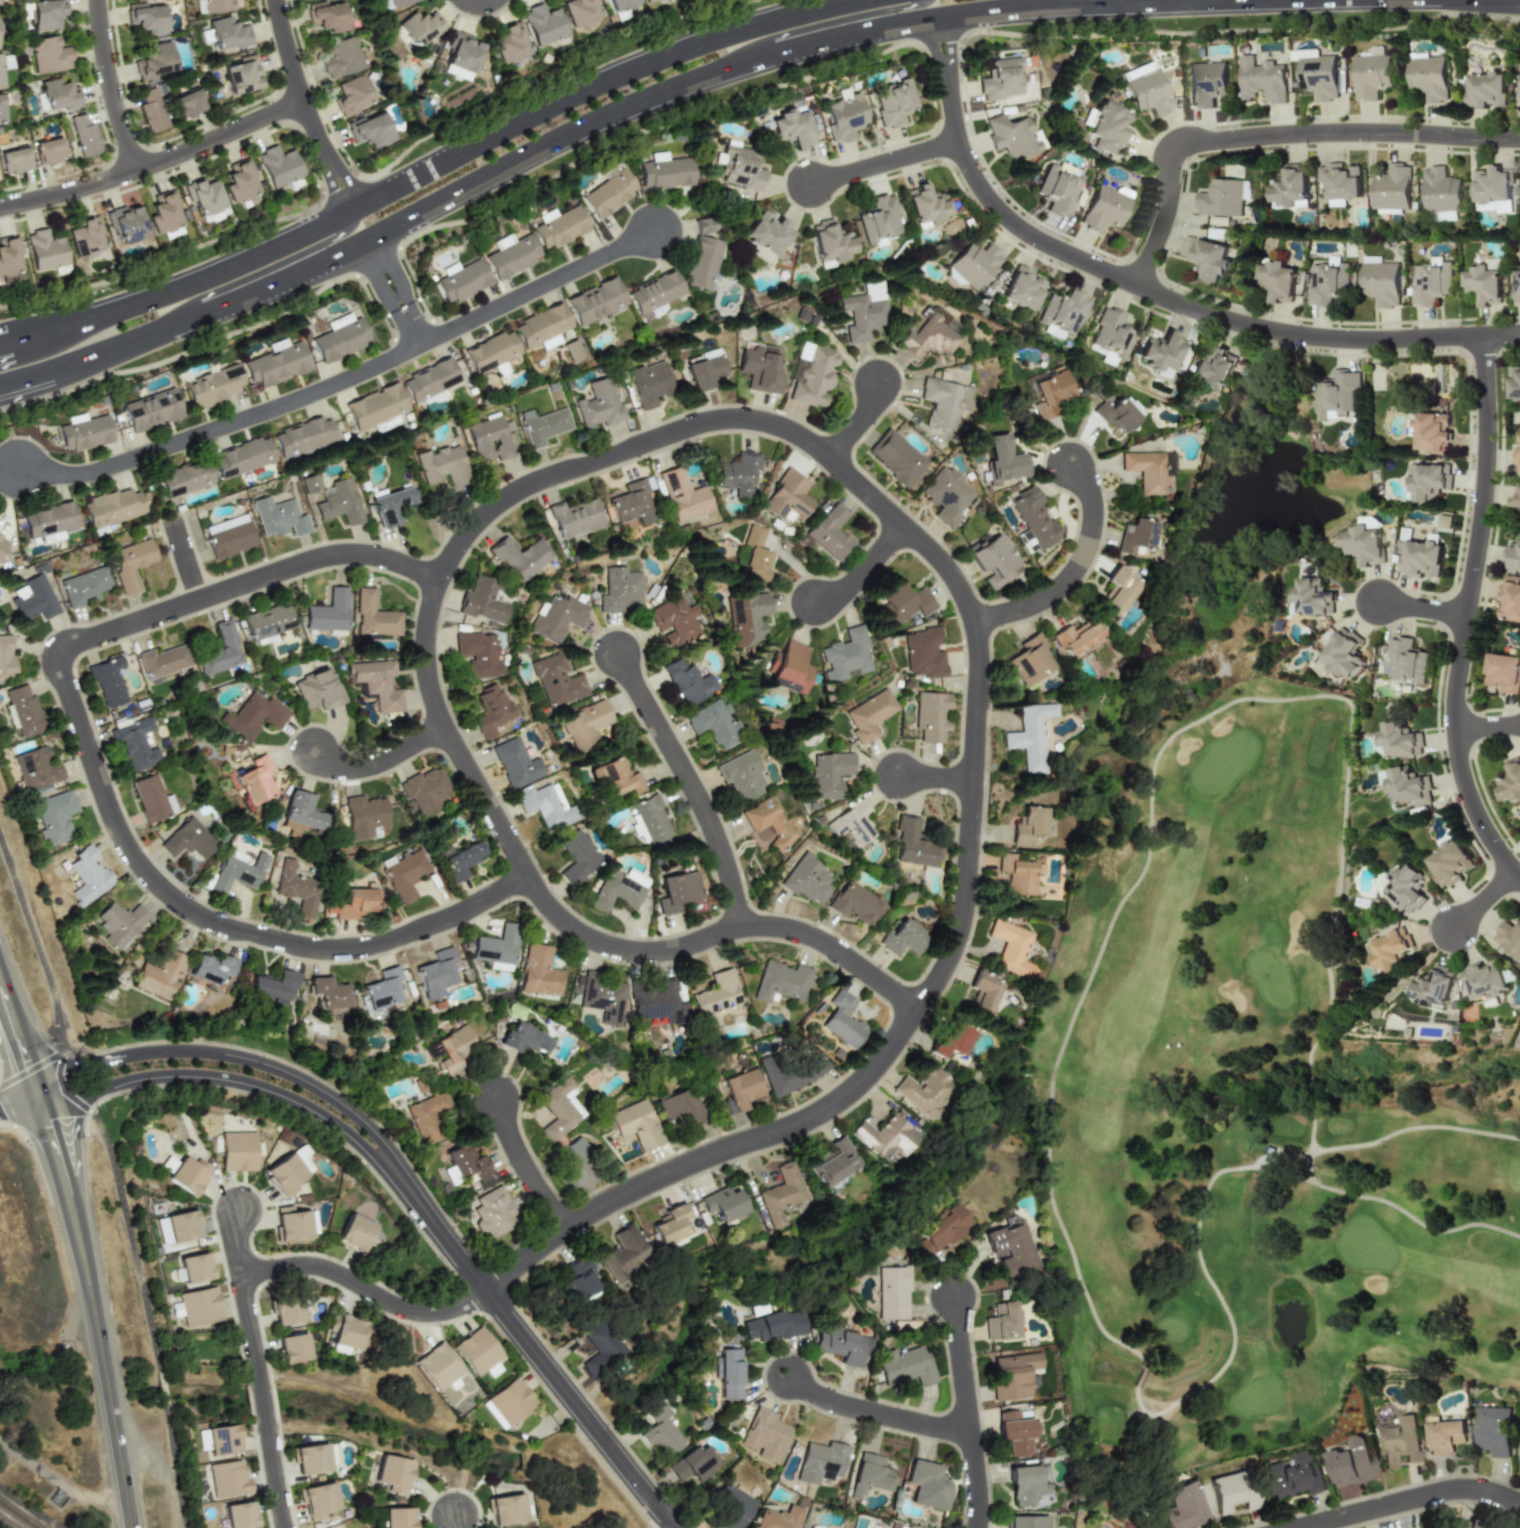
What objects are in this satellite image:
building: (646, 0)
building: (399, 2)
building: (621, 4)
building: (217, 5)
building: (580, 11)
building: (46, 13)
building: (328, 15)
building: (147, 17)
road: (825, 23)
building: (544, 24)
building: (418, 27)
building: (228, 33)
street lamp: (978, 37)
building: (511, 43)
building: (462, 52)
building: (1303, 53)
building: (49, 55)
building: (342, 57)
building: (154, 62)
building: (1, 73)
building: (456, 73)
building: (242, 75)
building: (1370, 76)
building: (1318, 77)
building: (1428, 78)
building: (1001, 79)
building: (1261, 80)
building: (1519, 80)
building: (1206, 83)
road: (113, 86)
building: (1146, 88)
building: (1485, 89)
building: (59, 94)
building: (351, 95)
building: (894, 102)
building: (189, 103)
road: (307, 107)
building: (1, 110)
building: (152, 110)
building: (844, 116)
street lamp: (219, 123)
street lamp: (1458, 124)
building: (1108, 126)
street lamp: (1238, 127)
building: (792, 128)
building: (370, 130)
road: (572, 132)
road: (1273, 135)
building: (85, 136)
building: (1012, 136)
street lamp: (1368, 146)
street lamp: (880, 149)
building: (49, 150)
building: (15, 160)
road: (883, 163)
road: (155, 164)
building: (278, 166)
building: (740, 168)
road: (427, 169)
street lamp: (954, 170)
building: (665, 173)
street lamp: (1183, 174)
street lamp: (44, 180)
building: (240, 181)
building: (1341, 181)
building: (1291, 187)
building: (1058, 188)
building: (1393, 188)
street lamp: (137, 190)
building: (1441, 190)
building: (1491, 190)
building: (608, 193)
building: (204, 196)
building: (1223, 197)
building: (925, 206)
building: (1103, 209)
street lamp: (803, 213)
building: (165, 215)
building: (1445, 215)
building: (879, 220)
building: (125, 224)
building: (702, 225)
building: (560, 228)
building: (765, 235)
building: (84, 238)
building: (829, 241)
street lamp: (1022, 249)
building: (44, 250)
building: (511, 255)
road: (172, 258)
building: (9, 259)
building: (1209, 259)
street lamp: (1110, 260)
building: (701, 263)
building: (974, 264)
road: (268, 268)
building: (462, 281)
building: (1276, 281)
building: (1327, 281)
building: (1430, 281)
building: (1381, 283)
building: (1482, 284)
building: (1516, 286)
road: (537, 288)
building: (1021, 288)
building: (655, 291)
road: (1148, 291)
road: (393, 292)
building: (595, 301)
building: (1062, 311)
building: (864, 312)
building: (541, 325)
building: (931, 335)
building: (340, 337)
building: (1109, 337)
building: (491, 351)
building: (572, 351)
building: (1161, 353)
building: (276, 363)
building: (759, 368)
building: (1212, 369)
building: (704, 372)
building: (811, 374)
building: (429, 379)
building: (1514, 382)
building: (648, 383)
building: (212, 386)
building: (1049, 394)
building: (1336, 394)
building: (944, 402)
building: (596, 404)
building: (375, 406)
building: (151, 409)
building: (1115, 416)
road: (860, 424)
building: (542, 425)
road: (222, 426)
building: (1432, 432)
building: (83, 433)
building: (303, 436)
road: (800, 438)
building: (489, 439)
building: (243, 457)
building: (896, 457)
building: (1517, 458)
building: (1002, 461)
building: (444, 466)
building: (1149, 469)
building: (738, 474)
building: (184, 478)
building: (311, 483)
building: (1428, 483)
building: (681, 494)
building: (947, 495)
building: (1516, 496)
building: (629, 501)
building: (340, 503)
building: (390, 506)
building: (111, 507)
building: (279, 517)
building: (573, 517)
building: (1034, 518)
building: (48, 519)
building: (1444, 521)
building: (830, 532)
building: (229, 535)
building: (50, 537)
building: (1137, 537)
building: (2, 542)
building: (1363, 545)
building: (1512, 555)
building: (520, 556)
building: (1421, 557)
road: (186, 559)
building: (994, 561)
building: (130, 563)
road: (1072, 565)
road: (863, 569)
building: (84, 586)
building: (619, 590)
building: (1117, 591)
building: (32, 598)
building: (1312, 598)
building: (1509, 599)
building: (482, 600)
building: (903, 602)
road: (1423, 609)
building: (329, 612)
road: (1466, 615)
building: (374, 616)
building: (746, 617)
building: (558, 618)
building: (673, 622)
building: (268, 623)
building: (1076, 637)
building: (221, 651)
building: (479, 653)
building: (924, 653)
building: (846, 654)
building: (1343, 654)
building: (6, 658)
building: (1030, 660)
building: (163, 661)
building: (1405, 662)
building: (789, 668)
building: (1503, 672)
building: (556, 680)
building: (109, 681)
building: (689, 682)
building: (378, 684)
building: (318, 690)
building: (24, 710)
building: (491, 710)
building: (870, 715)
building: (254, 716)
building: (932, 716)
building: (715, 723)
building: (584, 725)
road: (1488, 727)
building: (1030, 737)
building: (1400, 741)
building: (137, 744)
building: (516, 763)
road: (381, 765)
building: (36, 768)
building: (829, 774)
road: (99, 775)
building: (743, 775)
building: (616, 778)
road: (938, 778)
building: (256, 779)
building: (1511, 781)
road: (693, 786)
building: (1408, 786)
building: (426, 790)
building: (152, 798)
building: (547, 806)
building: (303, 811)
building: (365, 816)
building: (55, 817)
building: (652, 819)
building: (766, 823)
building: (852, 823)
building: (1026, 824)
building: (189, 839)
building: (915, 844)
building: (578, 857)
building: (462, 860)
building: (1449, 863)
building: (238, 871)
building: (1018, 874)
building: (88, 875)
building: (406, 875)
building: (636, 877)
building: (808, 879)
building: (297, 888)
building: (1406, 888)
building: (678, 891)
building: (616, 892)
road: (1484, 901)
building: (857, 903)
building: (354, 904)
building: (120, 922)
building: (903, 938)
building: (1509, 938)
building: (497, 948)
building: (1011, 948)
building: (1388, 950)
building: (211, 968)
building: (539, 972)
building: (437, 973)
building: (161, 974)
building: (1483, 980)
building: (782, 981)
building: (274, 985)
building: (1433, 987)
building: (383, 989)
building: (329, 993)
building: (717, 993)
building: (982, 994)
building: (657, 1002)
building: (843, 1020)
building: (523, 1039)
building: (952, 1039)
street lamp: (52, 1040)
street lamp: (118, 1046)
street lamp: (233, 1046)
building: (453, 1048)
street lamp: (175, 1060)
road: (274, 1061)
traffic signals: (22, 1064)
road: (75, 1065)
traffic signals: (71, 1067)
building: (792, 1072)
street lamp: (281, 1083)
road: (217, 1084)
building: (742, 1088)
street lamp: (225, 1090)
street lamp: (343, 1092)
building: (926, 1092)
street lamp: (131, 1094)
road: (76, 1101)
road: (18, 1102)
park: (1248, 1106)
building: (680, 1107)
building: (560, 1108)
street lamp: (99, 1111)
building: (428, 1116)
building: (637, 1124)
street lamp: (322, 1126)
traffic signals: (51, 1128)
street lamp: (396, 1137)
building: (886, 1137)
street lamp: (375, 1144)
street lamp: (29, 1145)
building: (238, 1151)
building: (582, 1156)
building: (302, 1157)
building: (833, 1162)
building: (469, 1165)
road: (525, 1166)
building: (189, 1175)
building: (285, 1175)
building: (781, 1194)
street lamp: (396, 1198)
building: (723, 1204)
building: (493, 1211)
building: (292, 1224)
building: (178, 1227)
building: (671, 1227)
building: (942, 1231)
building: (355, 1232)
road: (238, 1243)
street lamp: (255, 1245)
building: (1011, 1248)
building: (623, 1253)
road: (83, 1258)
building: (195, 1268)
road: (328, 1269)
building: (580, 1278)
building: (893, 1293)
building: (199, 1306)
building: (286, 1311)
street lamp: (482, 1317)
building: (1003, 1321)
street lamp: (407, 1325)
building: (774, 1325)
building: (346, 1331)
road: (529, 1343)
building: (842, 1344)
building: (293, 1348)
building: (600, 1349)
building: (478, 1352)
street lamp: (568, 1365)
building: (905, 1365)
building: (438, 1366)
building: (729, 1372)
building: (1013, 1375)
road: (163, 1389)
road: (263, 1389)
building: (510, 1401)
road: (967, 1412)
road: (877, 1414)
building: (663, 1430)
building: (1493, 1431)
building: (1016, 1432)
building: (765, 1435)
building: (1444, 1437)
building: (219, 1439)
street lamp: (286, 1441)
building: (1399, 1441)
street lamp: (598, 1454)
building: (1519, 1458)
building: (310, 1459)
building: (821, 1462)
building: (1352, 1463)
building: (694, 1464)
road: (176, 1467)
road: (276, 1472)
building: (393, 1473)
building: (870, 1475)
building: (1293, 1476)
building: (228, 1478)
street lamp: (653, 1478)
road: (58, 1483)
building: (928, 1485)
building: (1233, 1491)
building: (319, 1501)
road: (1418, 1501)
building: (732, 1506)
building: (1185, 1507)
building: (507, 1509)
railway: (17, 1515)
building: (240, 1515)
building: (398, 1517)
building: (778, 1518)
road: (458, 1521)
building: (1026, 1522)
building: (1461, 1526)

